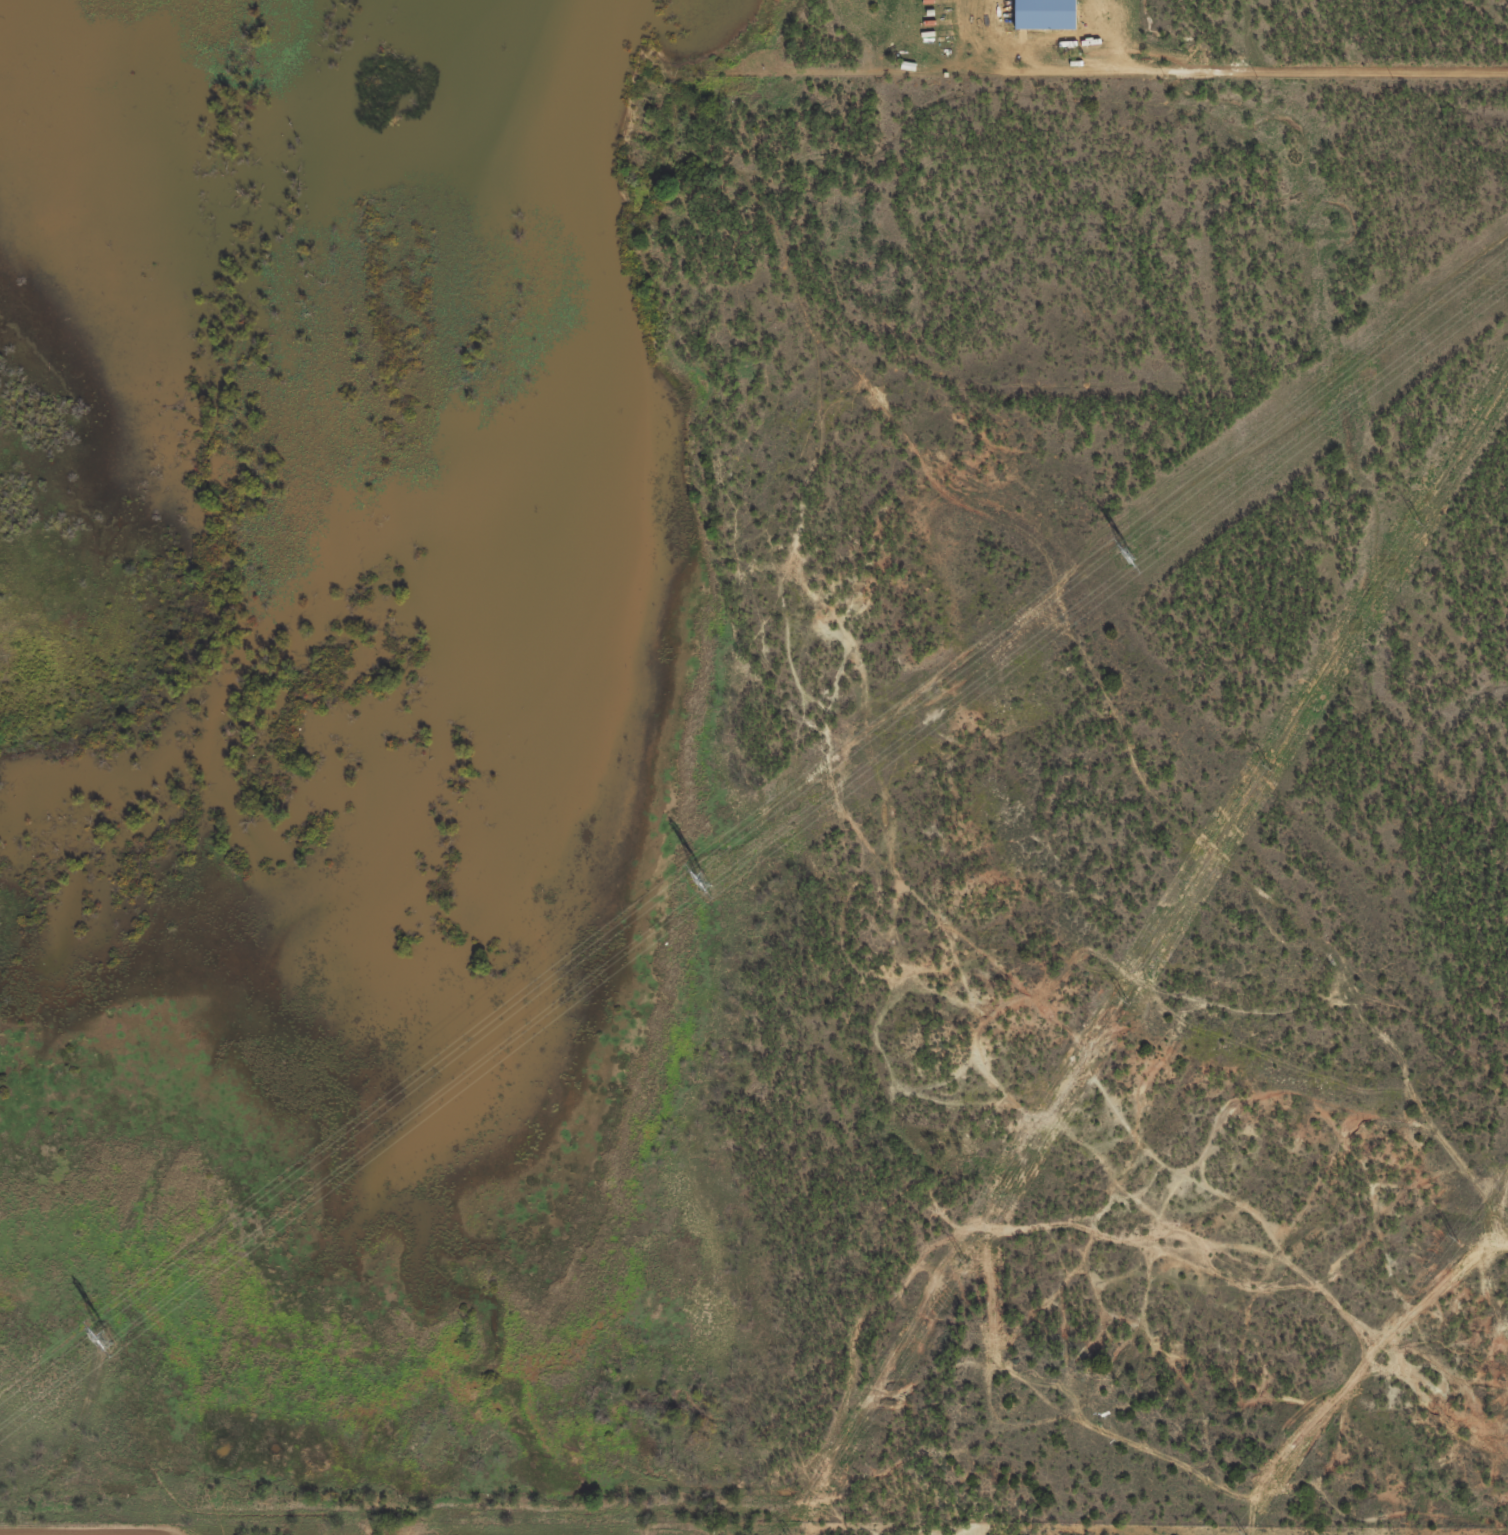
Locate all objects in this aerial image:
road: (1122, 72)
power tower: (1417, 521)
power tower: (1127, 554)
power tower: (1265, 767)
power tower: (707, 877)
power tower: (1122, 998)
power tower: (1452, 1239)
power tower: (962, 1259)
power tower: (107, 1336)
power tower: (1242, 1532)

